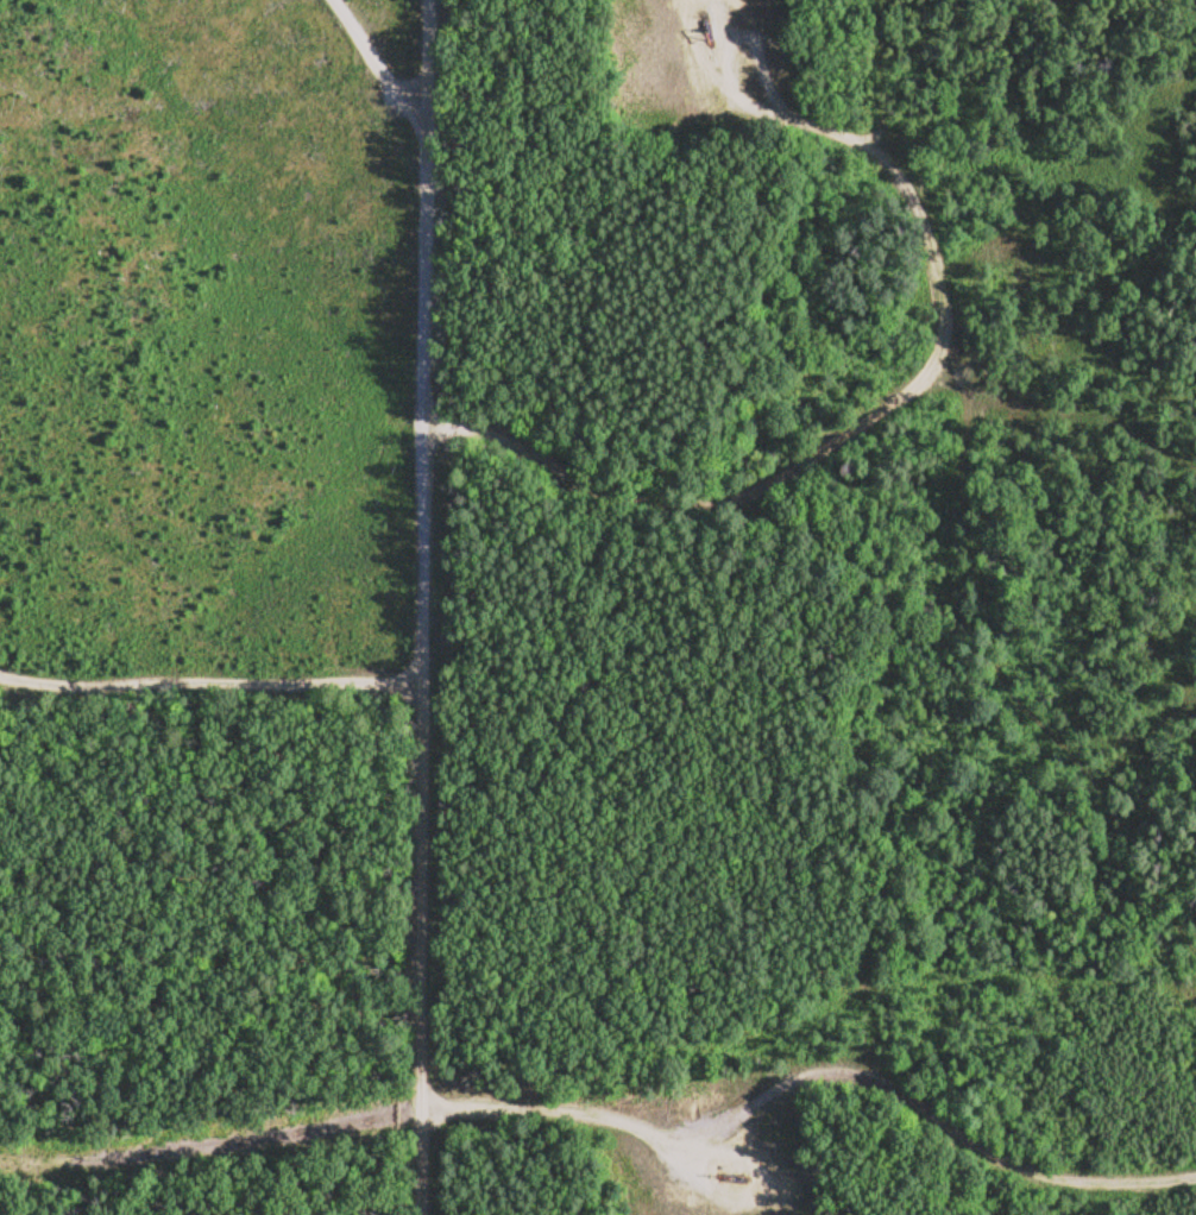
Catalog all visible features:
petroleum well: (699, 40)
road: (383, 57)
road: (848, 430)
road: (423, 606)
road: (210, 685)
road: (817, 1068)
petroleum well: (724, 1182)

